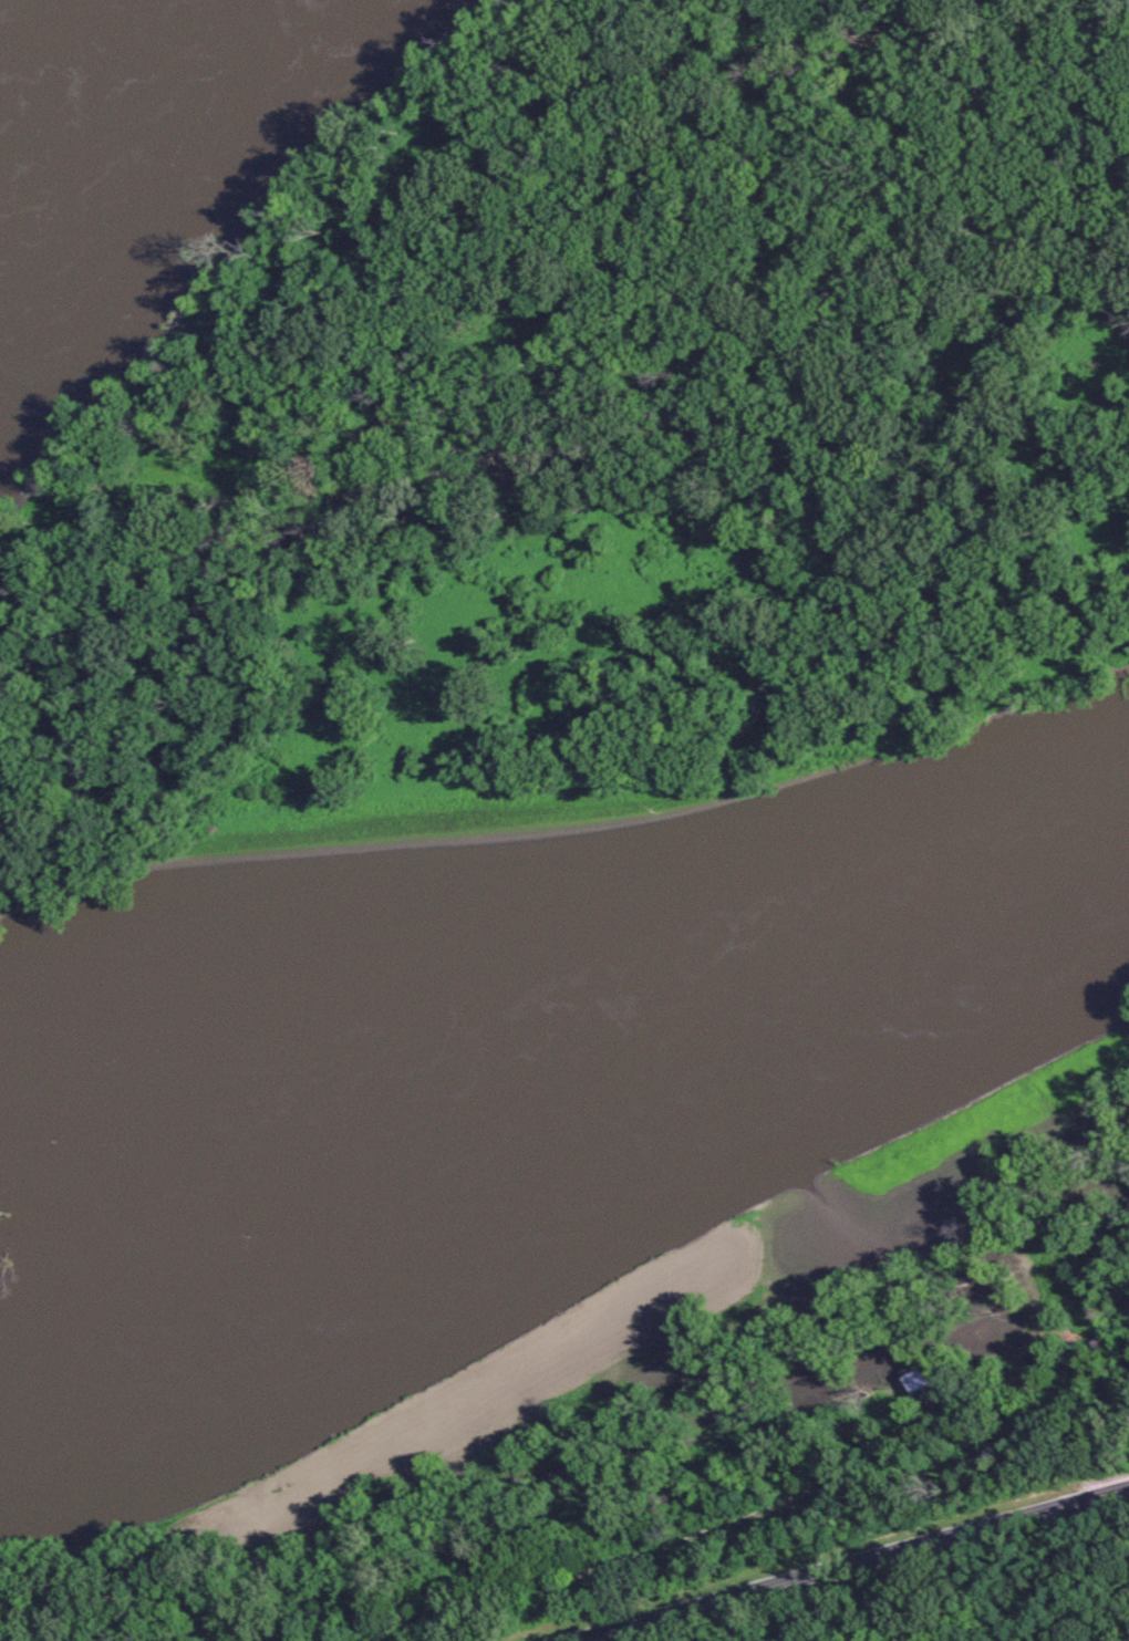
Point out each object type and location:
building: (682, 1281)
building: (663, 1357)
building: (921, 1381)
road: (760, 1507)
road: (850, 1562)

